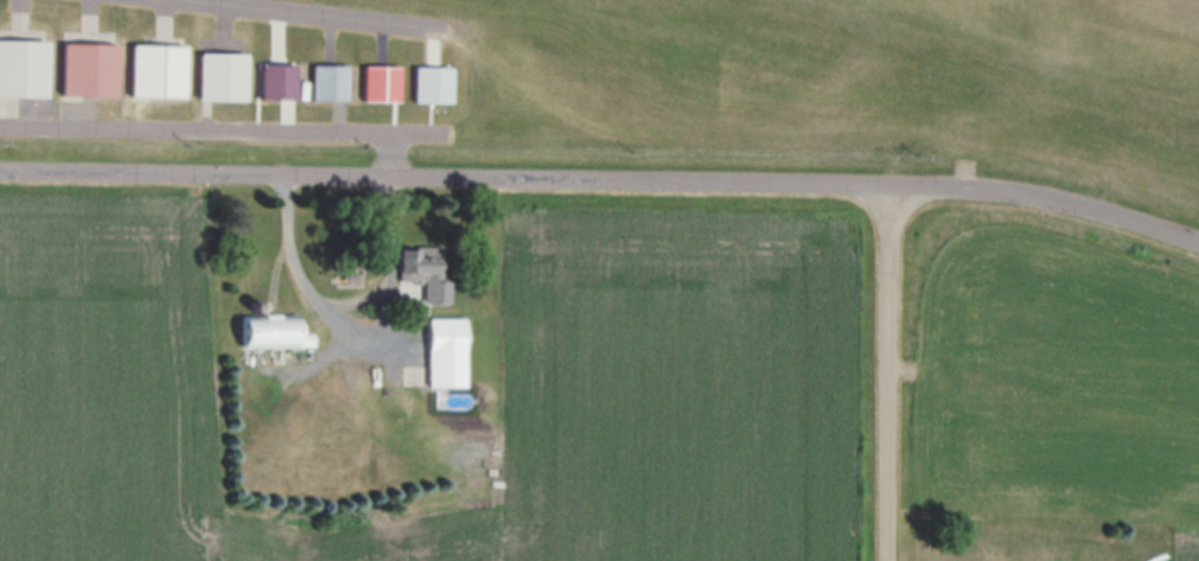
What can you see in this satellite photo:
airport taxiway: (319, 13)
road: (602, 176)
airport: (1047, 332)
road: (888, 371)

